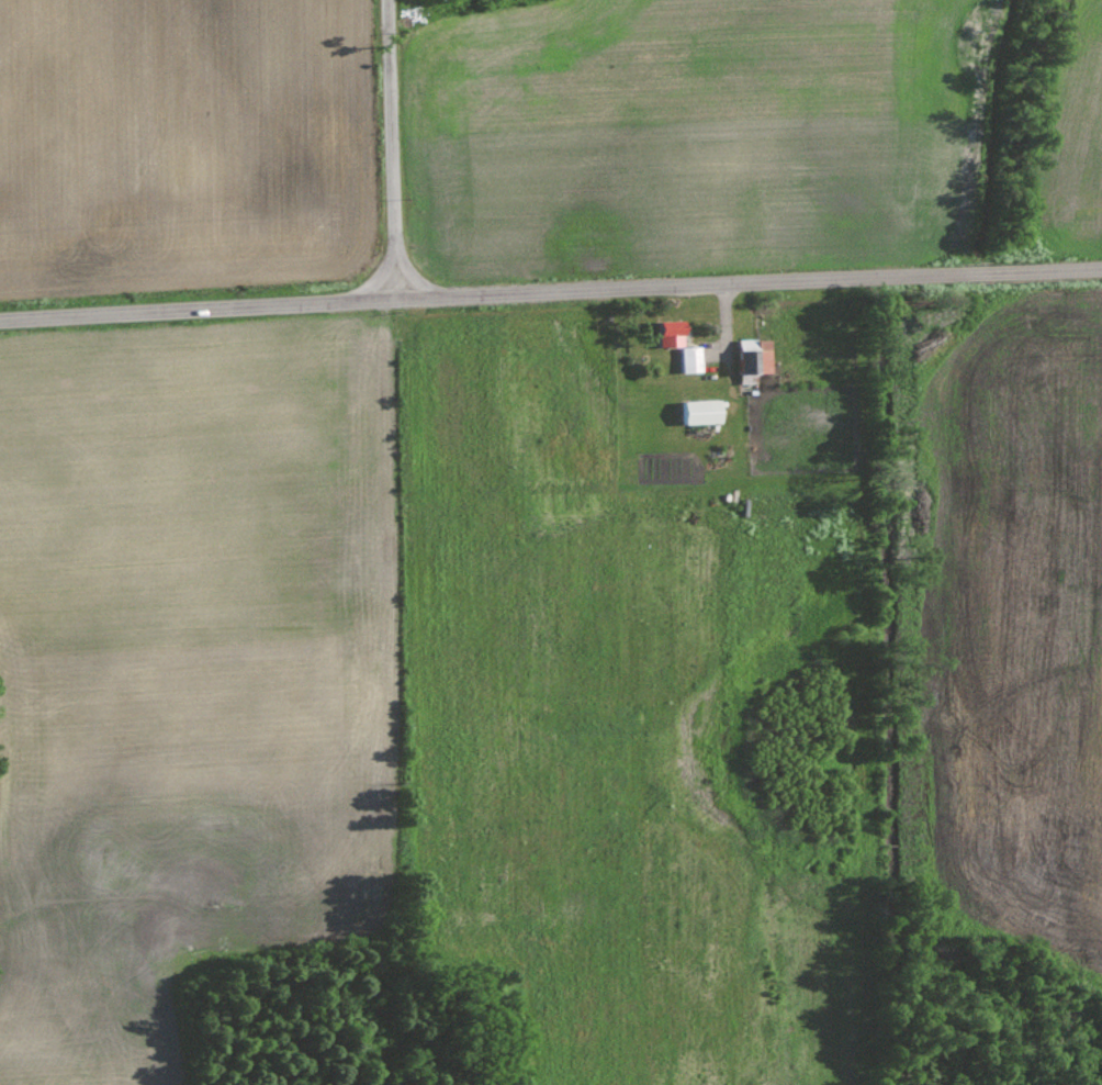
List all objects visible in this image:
road: (392, 148)
road: (550, 290)
building: (672, 332)
building: (755, 358)
building: (691, 359)
building: (704, 411)

